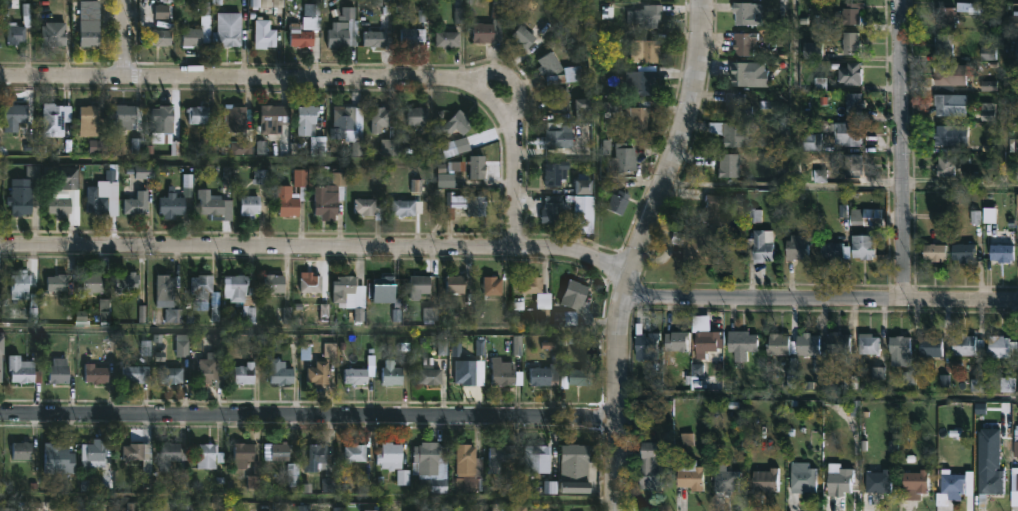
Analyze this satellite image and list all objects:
building: (271, 4)
building: (971, 6)
building: (750, 12)
building: (848, 12)
building: (311, 13)
building: (647, 16)
building: (943, 16)
building: (92, 24)
building: (491, 26)
building: (343, 27)
building: (18, 33)
building: (301, 33)
building: (265, 34)
building: (55, 36)
building: (192, 36)
building: (413, 36)
road: (120, 37)
building: (160, 37)
building: (230, 37)
building: (525, 37)
building: (376, 39)
building: (449, 39)
building: (747, 42)
building: (942, 42)
building: (849, 43)
building: (645, 49)
building: (989, 53)
building: (1015, 53)
building: (552, 68)
building: (847, 72)
building: (746, 73)
building: (946, 73)
road: (248, 76)
road: (510, 80)
building: (642, 82)
road: (800, 94)
building: (562, 100)
building: (852, 102)
building: (942, 103)
building: (738, 104)
building: (586, 109)
building: (199, 114)
building: (640, 115)
building: (14, 116)
building: (419, 116)
building: (271, 117)
building: (56, 118)
building: (122, 119)
building: (237, 119)
building: (343, 119)
building: (90, 120)
building: (309, 120)
building: (381, 120)
building: (161, 121)
building: (460, 123)
building: (731, 133)
building: (948, 135)
building: (832, 137)
building: (559, 138)
road: (679, 143)
building: (1015, 144)
building: (389, 148)
building: (454, 148)
road: (903, 149)
building: (623, 160)
building: (950, 161)
road: (210, 163)
building: (731, 165)
building: (851, 165)
building: (478, 167)
road: (514, 170)
building: (146, 174)
building: (68, 178)
building: (556, 179)
building: (301, 182)
building: (445, 182)
building: (582, 185)
road: (785, 188)
building: (331, 195)
building: (22, 197)
building: (97, 201)
building: (288, 201)
building: (620, 201)
building: (137, 203)
building: (211, 204)
building: (173, 205)
building: (251, 205)
building: (467, 205)
building: (366, 207)
building: (408, 207)
building: (65, 210)
building: (712, 212)
building: (551, 213)
building: (867, 216)
building: (760, 244)
building: (860, 245)
road: (515, 246)
building: (794, 246)
building: (698, 249)
building: (832, 249)
building: (932, 251)
building: (960, 251)
building: (1000, 252)
building: (129, 282)
building: (93, 283)
building: (275, 283)
building: (310, 283)
building: (382, 283)
building: (18, 284)
building: (420, 284)
building: (491, 285)
building: (203, 287)
building: (343, 287)
building: (460, 287)
building: (166, 288)
building: (532, 289)
building: (60, 290)
building: (240, 294)
building: (577, 295)
building: (173, 317)
building: (567, 318)
road: (308, 333)
building: (677, 340)
building: (709, 342)
building: (836, 342)
building: (869, 342)
building: (646, 343)
building: (779, 343)
building: (805, 343)
building: (962, 343)
building: (742, 344)
building: (932, 345)
building: (1001, 346)
building: (897, 348)
building: (181, 350)
building: (0, 351)
building: (21, 371)
building: (57, 371)
building: (211, 372)
building: (282, 372)
building: (1, 373)
building: (320, 373)
building: (392, 373)
building: (504, 373)
building: (94, 374)
building: (135, 374)
building: (170, 374)
building: (246, 374)
building: (355, 375)
building: (431, 375)
building: (467, 375)
building: (544, 375)
building: (581, 377)
building: (678, 377)
road: (616, 394)
road: (817, 401)
road: (308, 417)
building: (23, 450)
building: (134, 451)
building: (285, 452)
building: (94, 454)
building: (170, 454)
building: (356, 454)
building: (542, 454)
building: (208, 455)
building: (245, 455)
building: (319, 457)
building: (392, 457)
building: (501, 457)
building: (60, 459)
building: (469, 462)
building: (651, 465)
building: (433, 467)
building: (579, 469)
building: (692, 474)
building: (800, 477)
building: (729, 479)
building: (761, 479)
building: (876, 480)
building: (835, 481)
building: (1016, 481)
building: (914, 482)
building: (986, 482)
building: (950, 485)
road: (308, 503)

